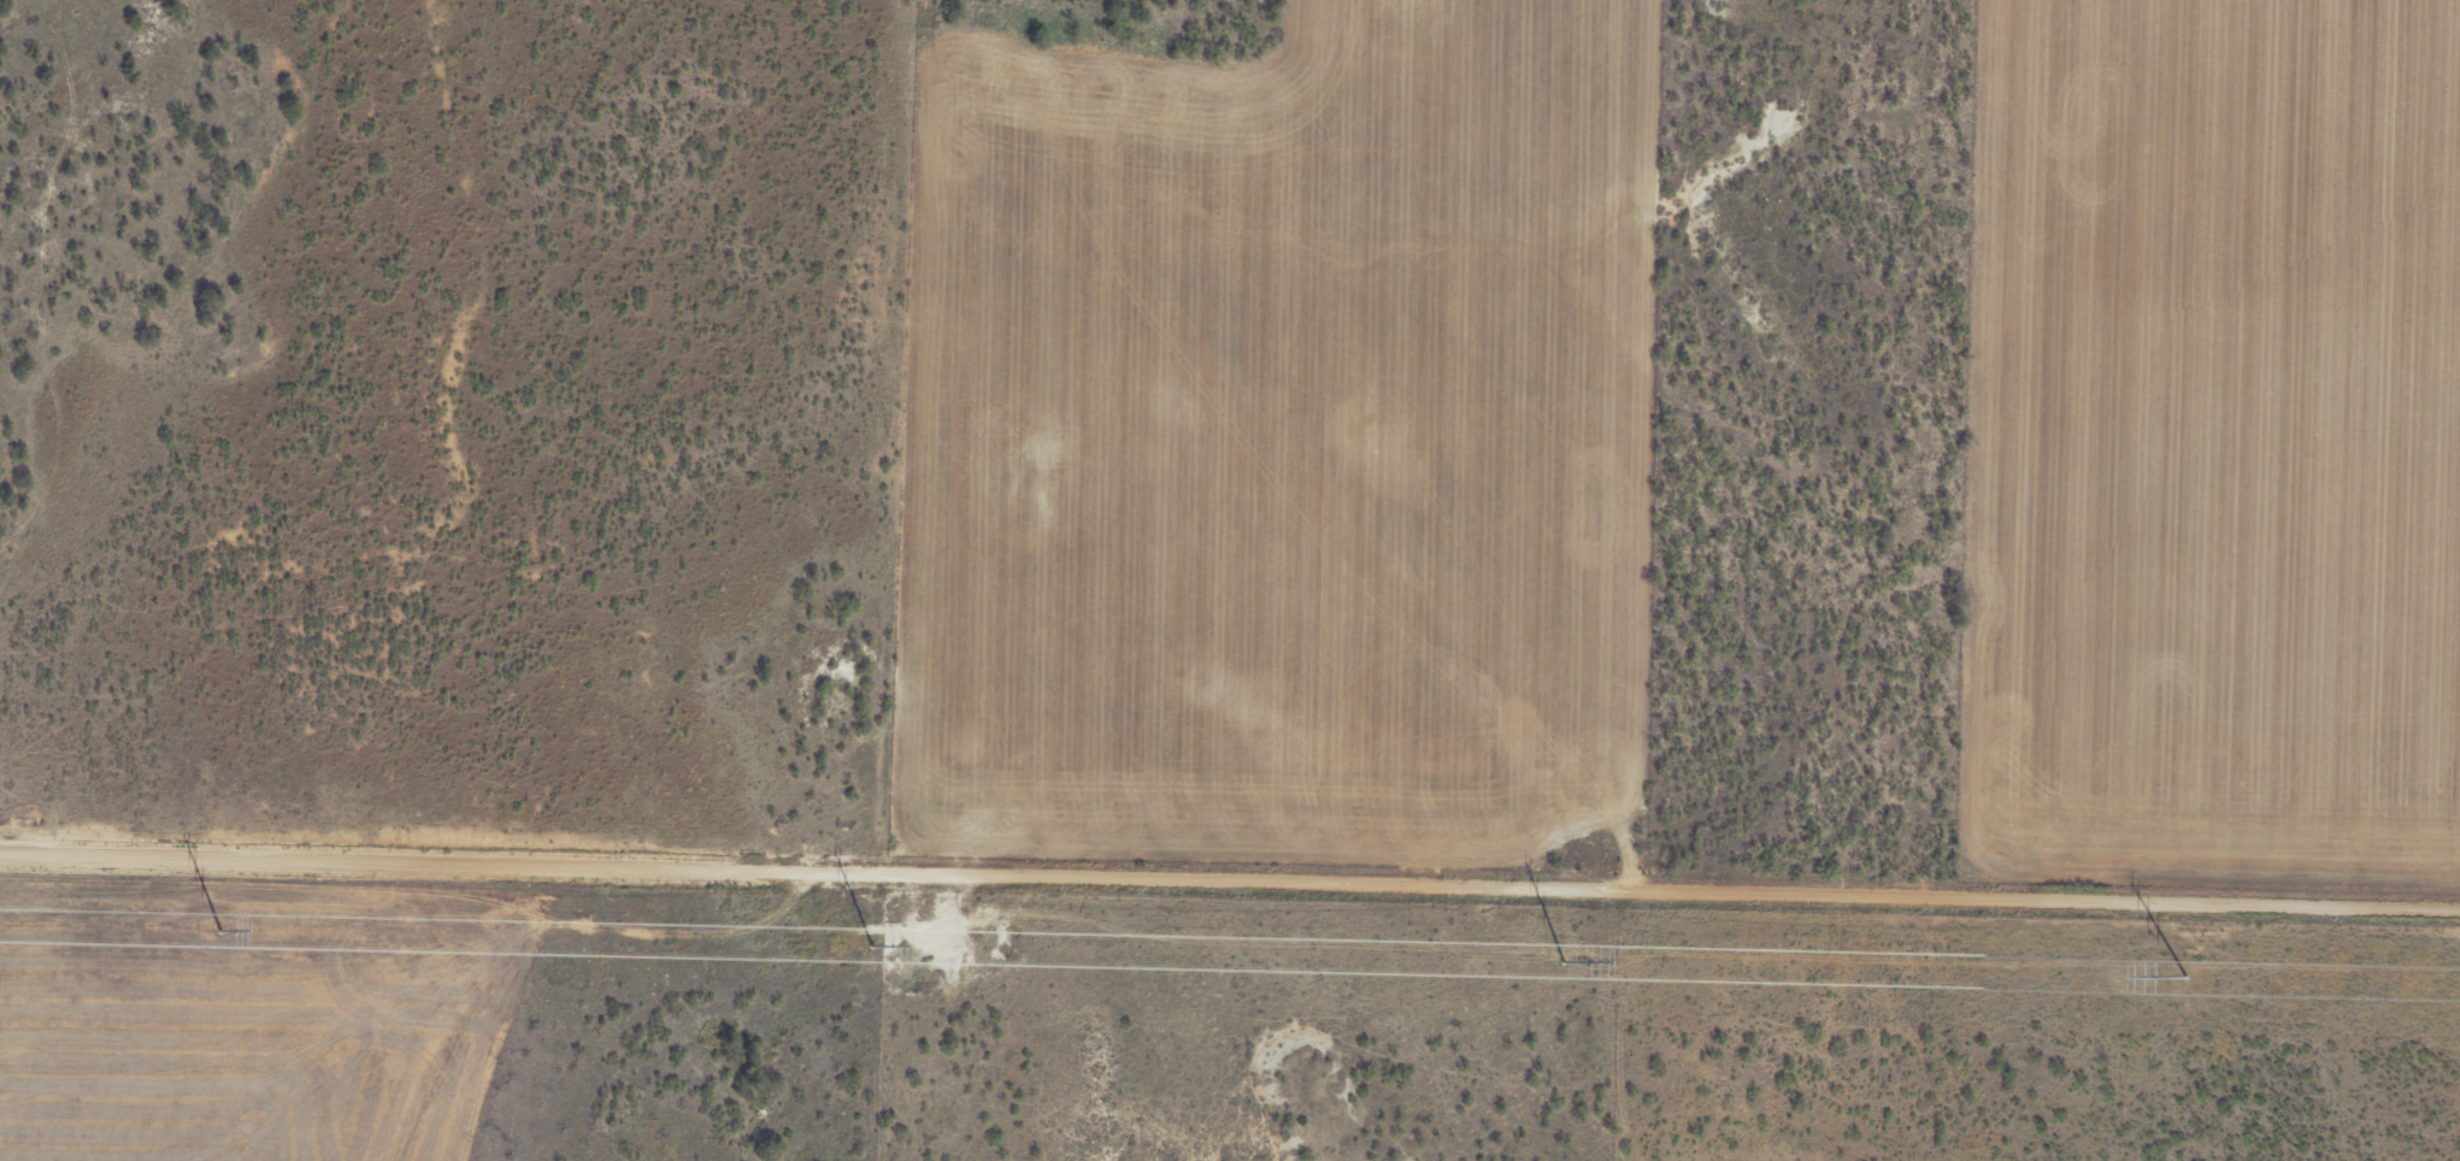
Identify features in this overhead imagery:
road: (1230, 876)
power tower: (222, 930)
power tower: (872, 944)
power tower: (1566, 960)
power tower: (2184, 976)

